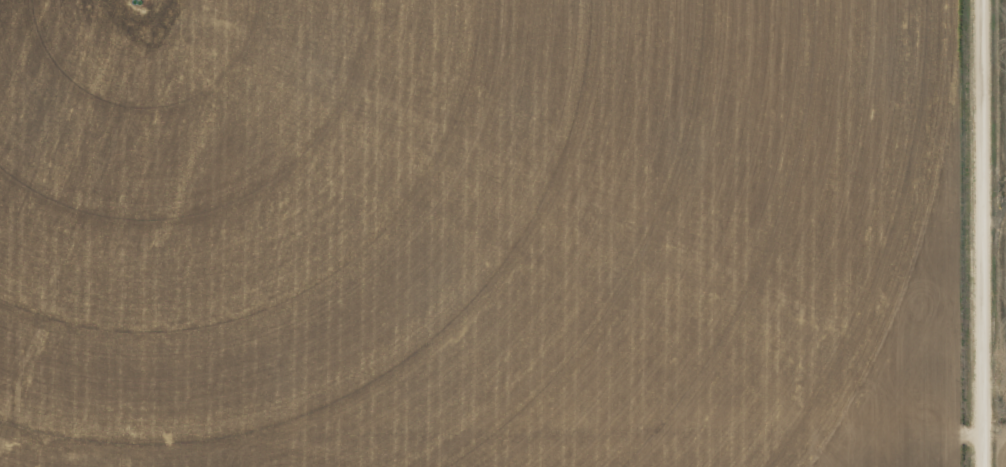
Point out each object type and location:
road: (985, 233)
road: (493, 420)

